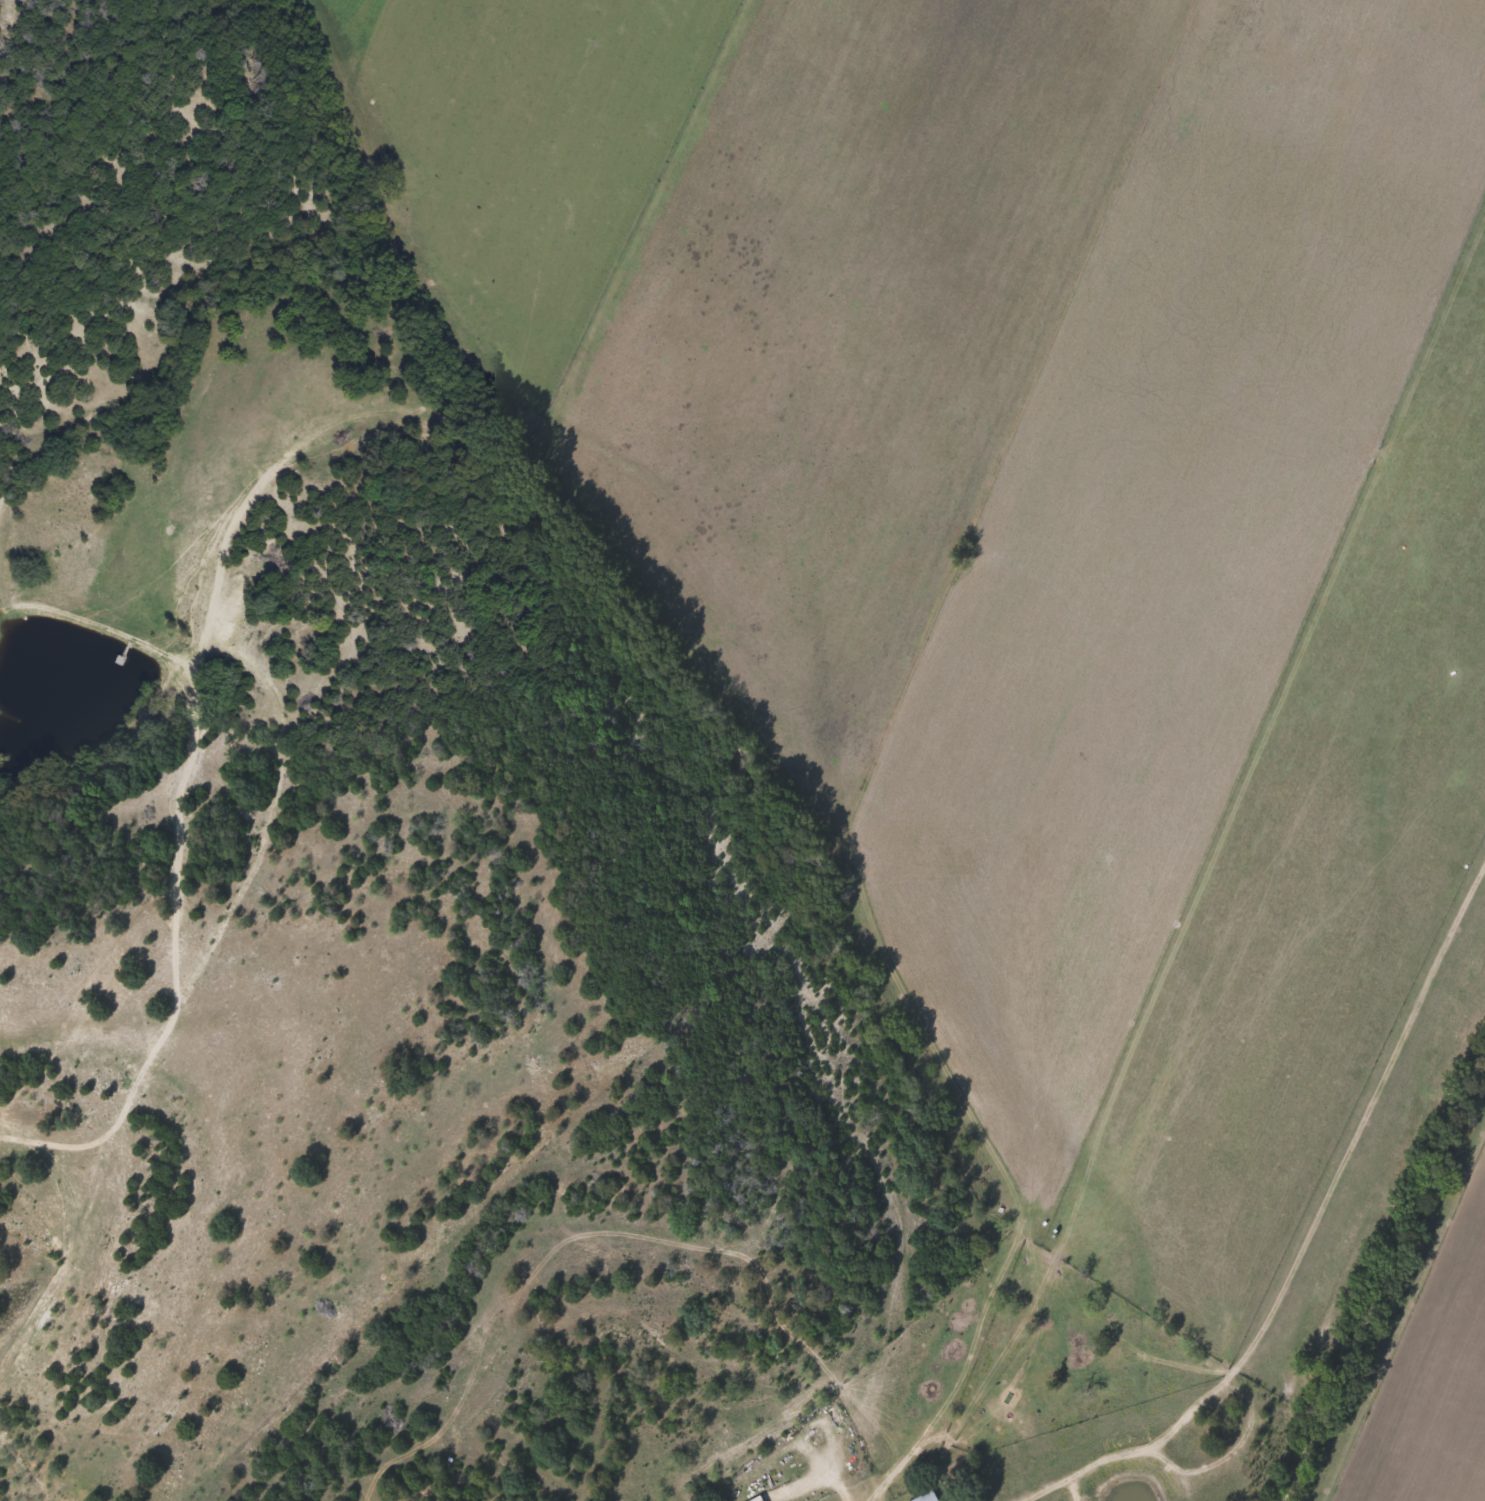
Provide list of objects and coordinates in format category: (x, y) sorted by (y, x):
building: (927, 1497)

